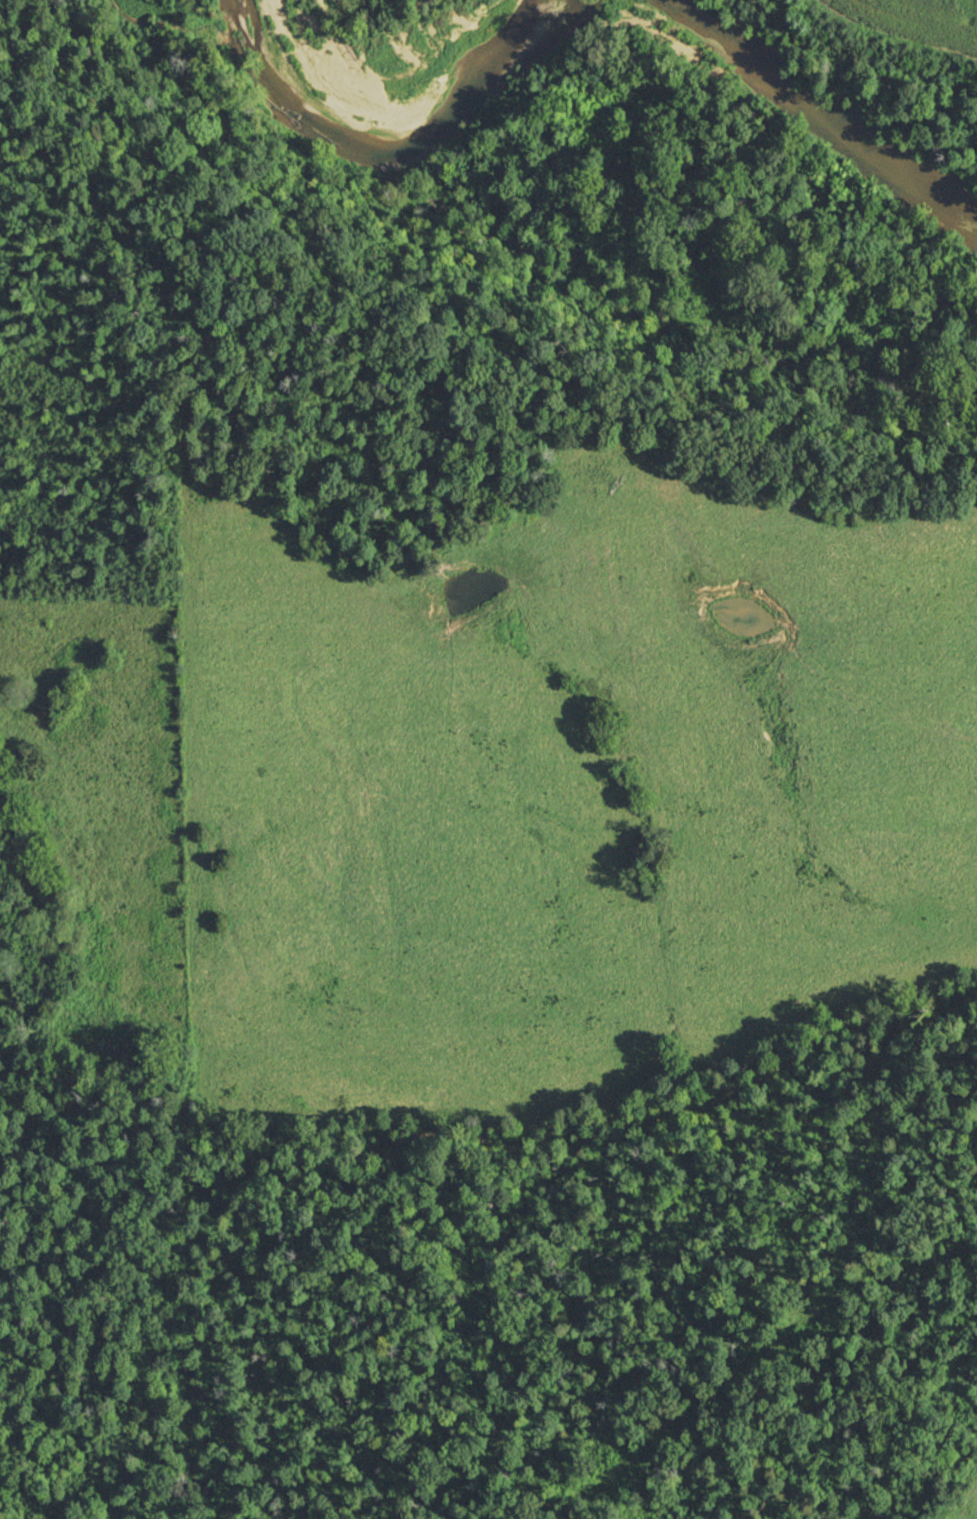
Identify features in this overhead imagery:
river: (392, 70)
river: (824, 110)

